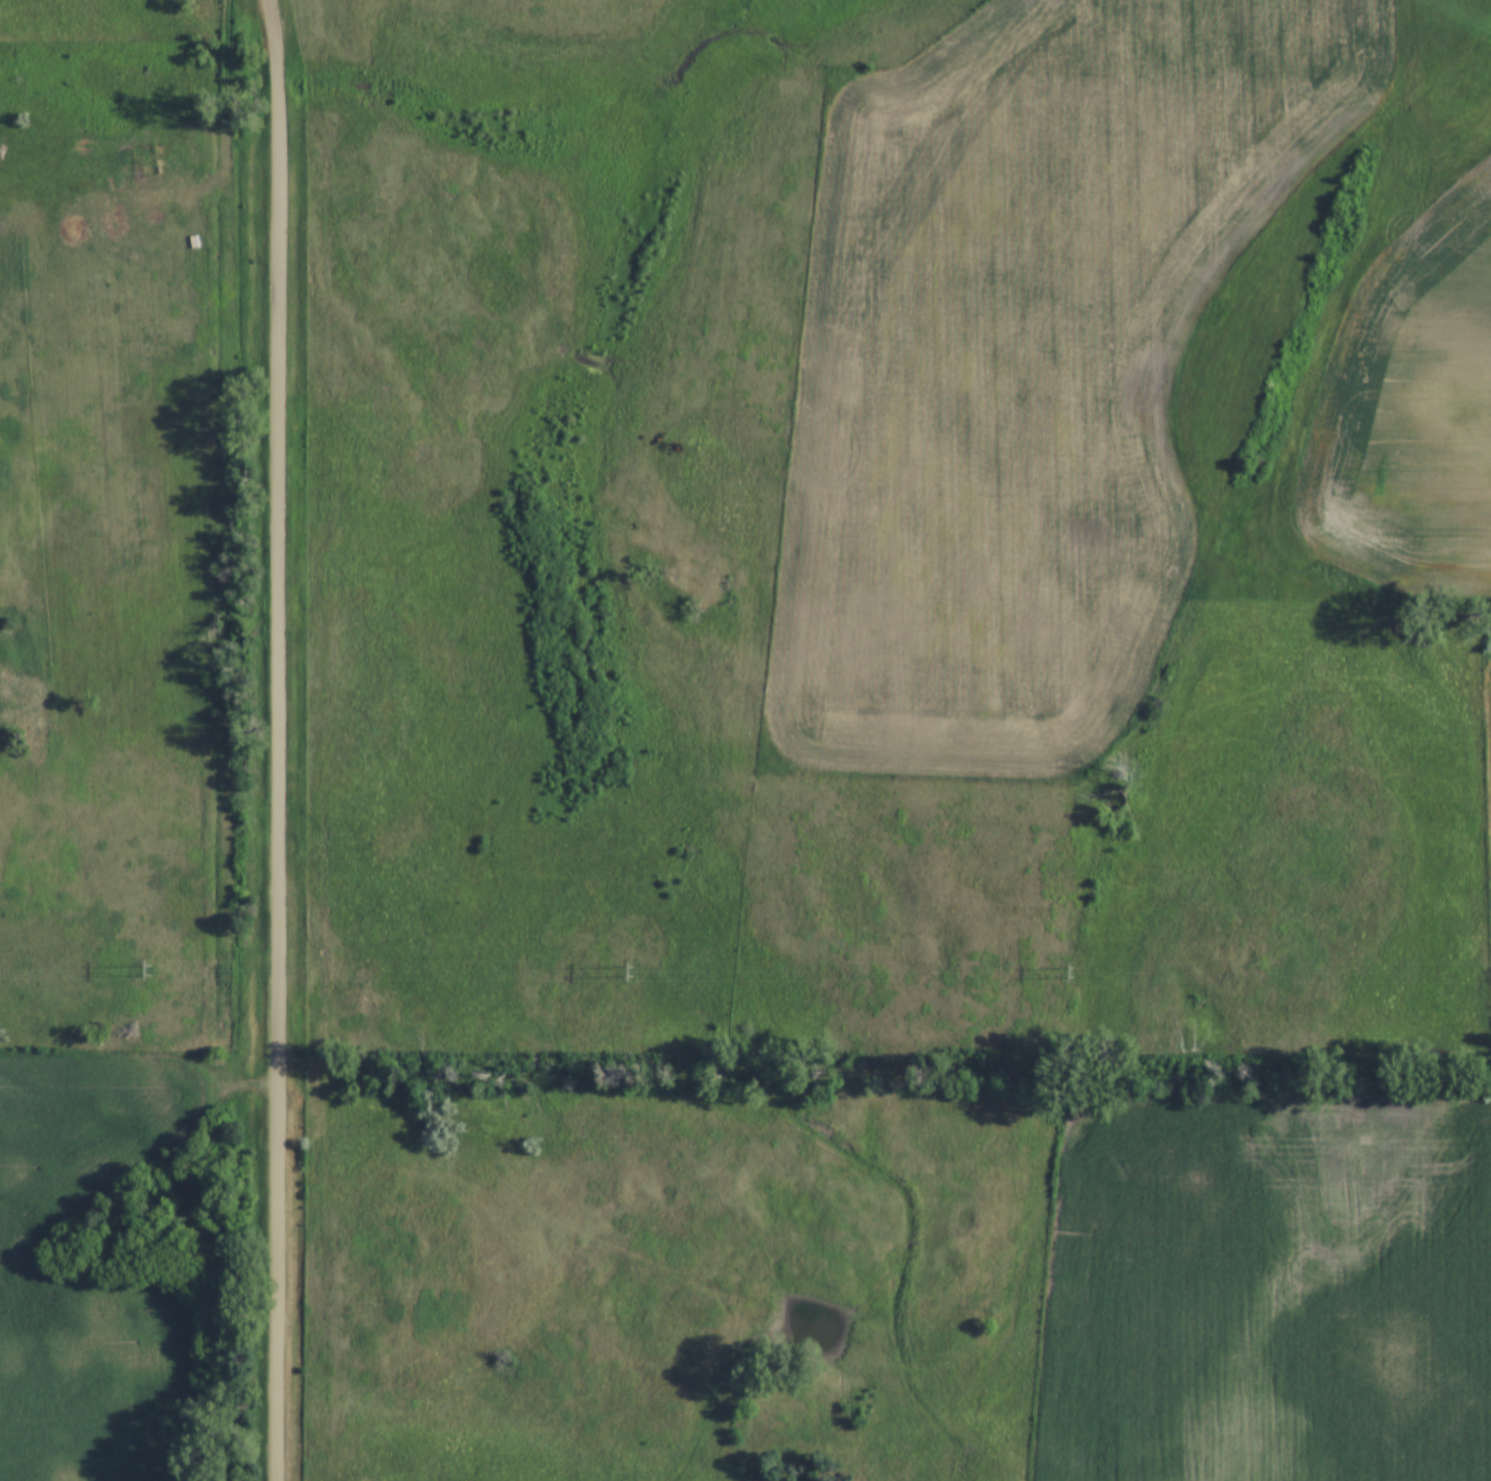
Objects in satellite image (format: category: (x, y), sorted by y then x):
road: (283, 740)
power tower: (151, 967)
power tower: (631, 970)
power tower: (1071, 973)

